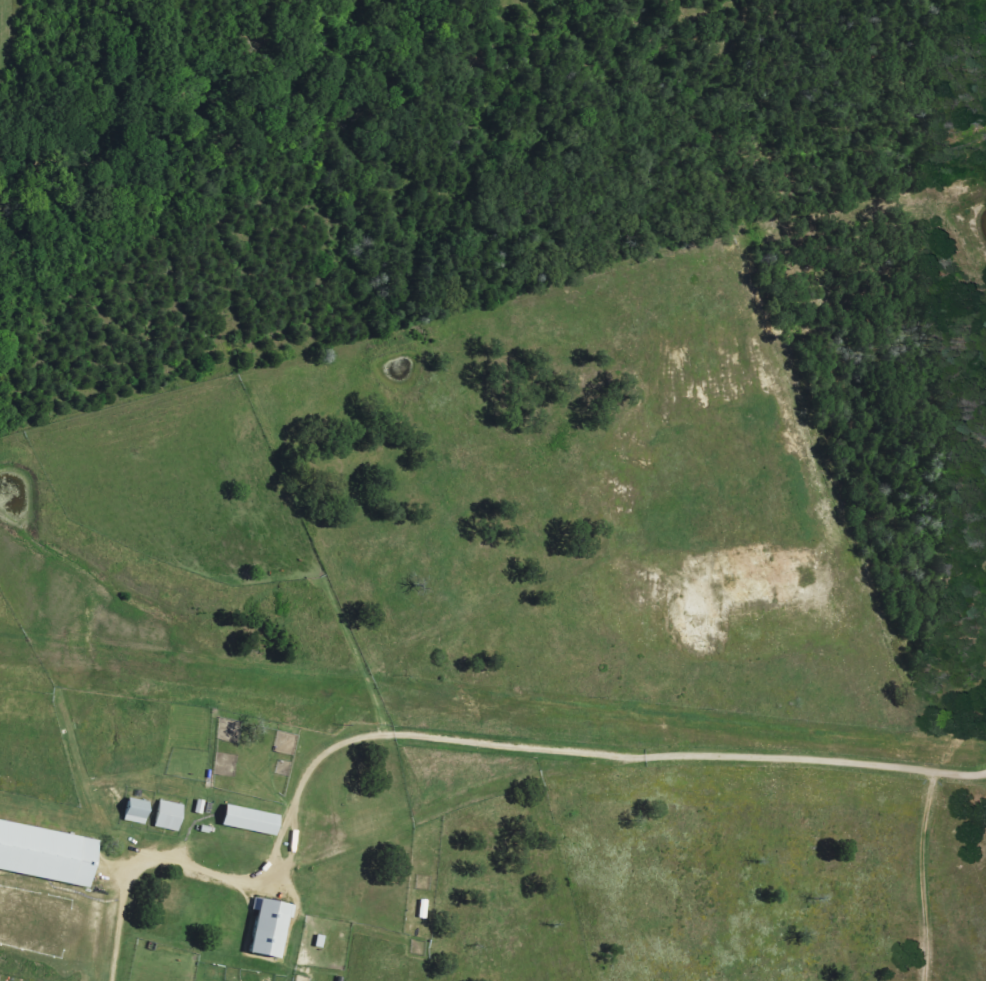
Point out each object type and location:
road: (823, 750)
building: (138, 813)
road: (290, 816)
building: (171, 817)
building: (253, 822)
building: (48, 856)
road: (921, 871)
building: (272, 930)

